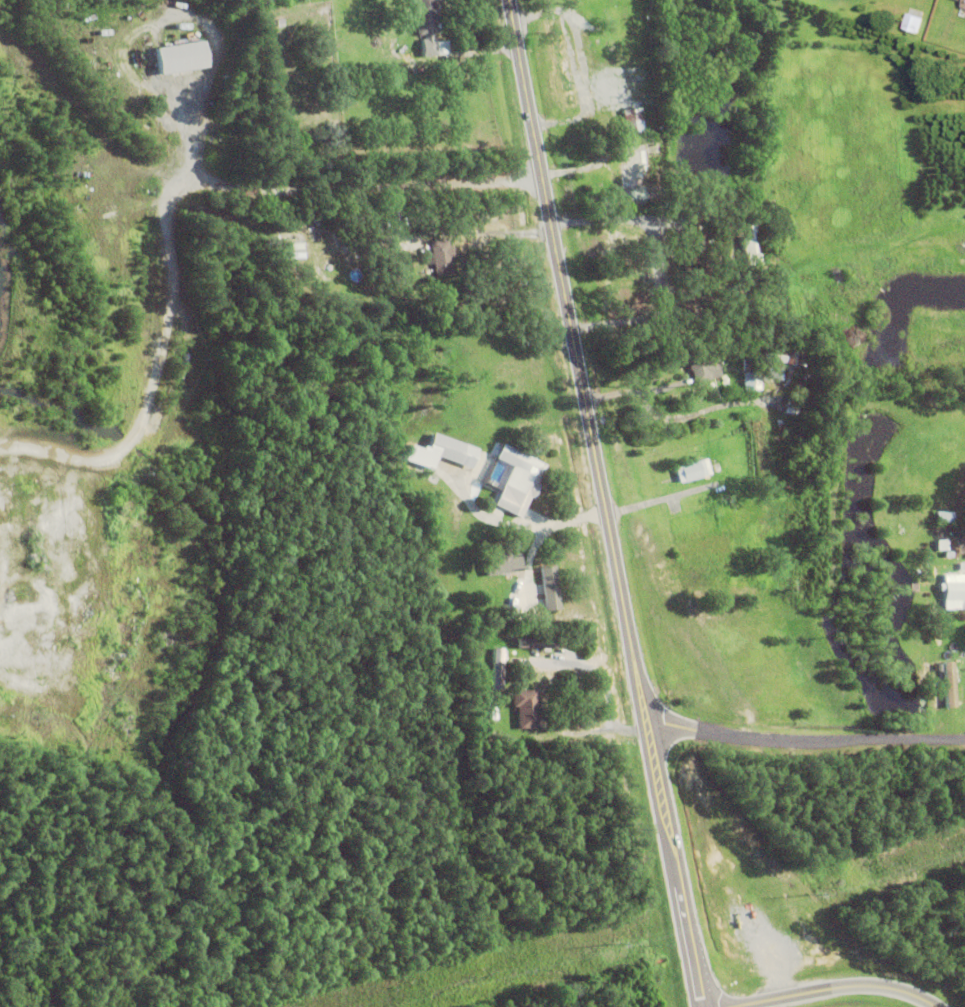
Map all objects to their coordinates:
building: (963, 4)
building: (426, 17)
building: (614, 20)
building: (912, 24)
building: (190, 35)
building: (180, 57)
building: (561, 62)
building: (633, 120)
building: (642, 166)
building: (750, 174)
building: (784, 198)
building: (366, 210)
road: (610, 219)
building: (745, 226)
building: (730, 229)
building: (696, 244)
building: (441, 257)
building: (692, 297)
building: (775, 356)
building: (797, 356)
building: (703, 364)
building: (749, 365)
building: (751, 382)
building: (791, 408)
road: (675, 418)
building: (452, 452)
building: (692, 471)
building: (518, 481)
road: (605, 504)
building: (944, 518)
building: (940, 545)
building: (950, 556)
building: (502, 564)
building: (550, 589)
building: (953, 592)
building: (533, 616)
building: (527, 641)
building: (497, 670)
building: (945, 684)
building: (525, 709)
building: (493, 714)
road: (805, 739)
road: (834, 988)

